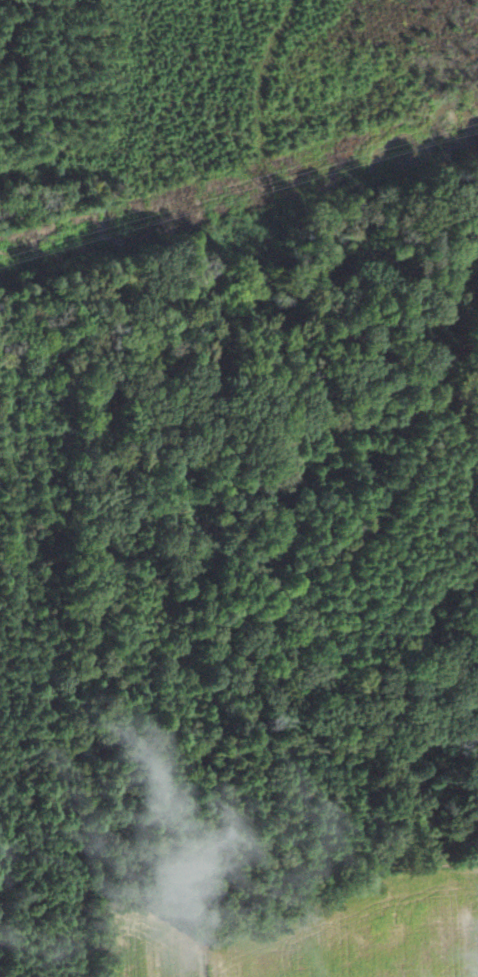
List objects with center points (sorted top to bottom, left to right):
power tower: (258, 181)

